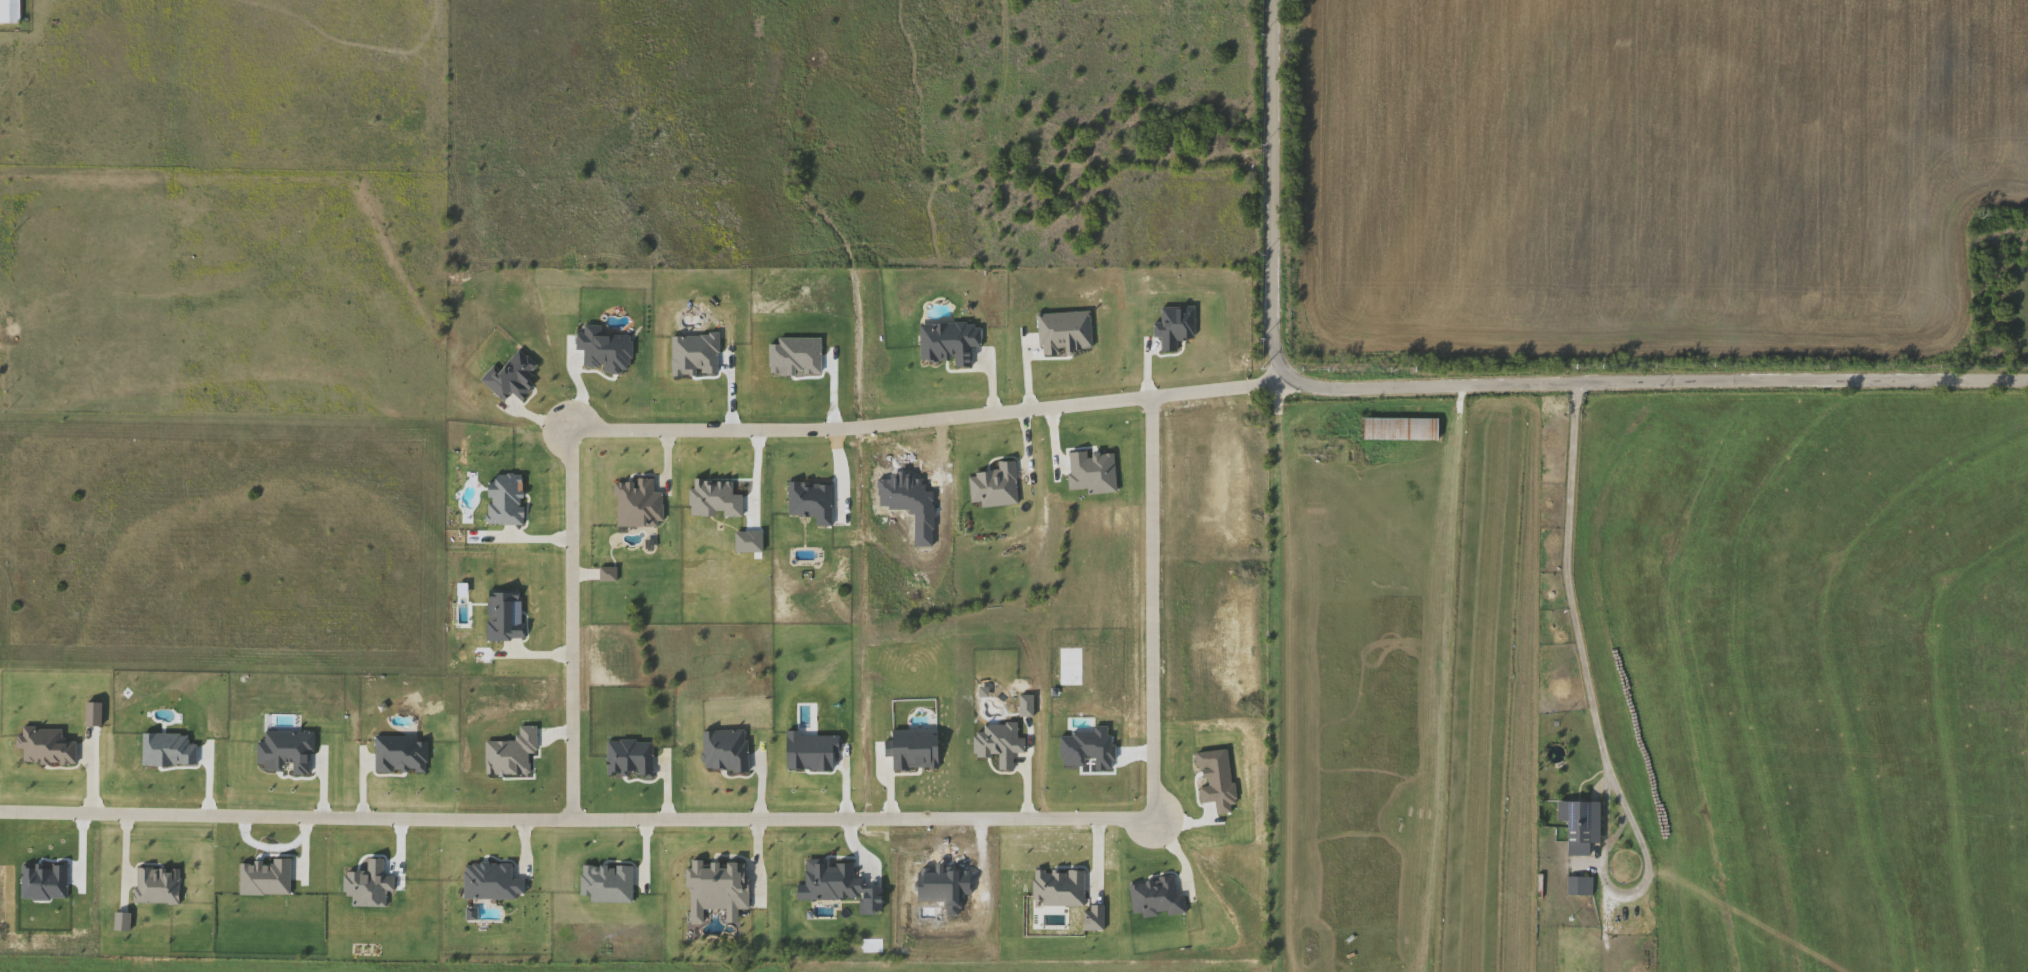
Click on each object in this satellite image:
building: (9, 10)
road: (1470, 384)
road: (742, 427)
building: (1400, 427)
road: (1455, 538)
road: (1578, 645)
airport: (1403, 687)
airport runway: (1486, 703)
road: (780, 818)
building: (1571, 823)
building: (1579, 885)

